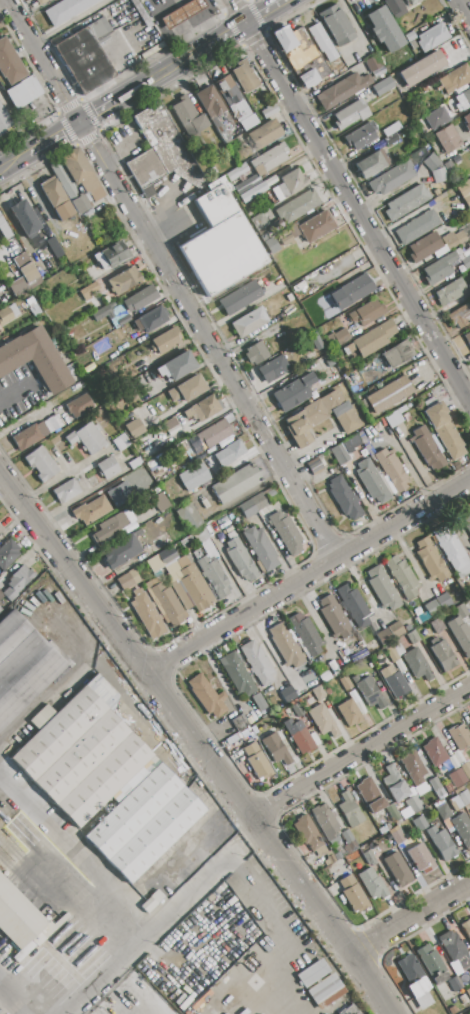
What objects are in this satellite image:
park: (246, 0)
building: (403, 0)
building: (41, 2)
road: (162, 7)
building: (394, 8)
building: (65, 10)
road: (463, 10)
building: (183, 13)
building: (337, 24)
building: (384, 30)
building: (432, 38)
building: (321, 42)
building: (86, 55)
building: (302, 55)
building: (10, 62)
building: (373, 63)
building: (421, 68)
building: (244, 77)
building: (456, 79)
road: (144, 85)
building: (383, 86)
building: (1, 87)
building: (340, 89)
building: (23, 92)
building: (230, 94)
building: (463, 100)
building: (212, 110)
building: (269, 111)
building: (350, 114)
building: (188, 118)
building: (467, 121)
building: (3, 122)
traffic signals: (82, 124)
building: (390, 130)
building: (265, 134)
building: (360, 135)
road: (123, 136)
building: (447, 138)
building: (390, 139)
building: (159, 149)
building: (270, 161)
building: (431, 162)
building: (371, 164)
building: (448, 165)
building: (236, 172)
building: (81, 173)
building: (439, 175)
building: (392, 178)
building: (271, 179)
building: (293, 181)
building: (247, 184)
building: (463, 187)
building: (68, 189)
building: (253, 192)
building: (279, 192)
building: (56, 198)
road: (350, 199)
building: (466, 200)
building: (406, 202)
building: (296, 204)
building: (24, 218)
road: (175, 219)
building: (258, 221)
building: (316, 225)
building: (416, 226)
building: (4, 229)
building: (284, 237)
building: (454, 239)
building: (220, 242)
building: (424, 247)
building: (117, 254)
building: (465, 259)
building: (101, 261)
building: (352, 266)
building: (439, 268)
road: (173, 278)
building: (25, 280)
building: (125, 280)
building: (89, 291)
building: (350, 292)
building: (449, 292)
building: (240, 298)
building: (139, 299)
building: (32, 307)
building: (367, 312)
building: (101, 313)
building: (8, 314)
building: (460, 315)
building: (150, 320)
building: (249, 322)
building: (339, 336)
building: (374, 338)
building: (468, 338)
building: (165, 340)
building: (256, 353)
building: (397, 353)
building: (35, 358)
building: (176, 366)
building: (274, 368)
building: (186, 388)
road: (13, 392)
building: (293, 392)
building: (389, 394)
building: (78, 406)
building: (203, 408)
building: (325, 415)
building: (391, 420)
building: (55, 422)
building: (169, 424)
building: (197, 426)
building: (134, 428)
building: (443, 428)
building: (214, 434)
building: (29, 435)
building: (86, 438)
building: (121, 442)
building: (427, 448)
building: (232, 451)
building: (339, 455)
building: (135, 463)
building: (40, 464)
building: (314, 466)
building: (108, 468)
building: (391, 469)
building: (194, 477)
building: (147, 481)
building: (373, 481)
building: (236, 483)
building: (65, 491)
building: (345, 498)
building: (160, 501)
building: (253, 506)
building: (274, 508)
building: (90, 509)
building: (191, 517)
building: (466, 521)
building: (109, 527)
building: (1, 529)
building: (287, 532)
building: (449, 545)
building: (261, 548)
building: (121, 553)
building: (7, 555)
building: (166, 555)
building: (430, 558)
building: (241, 560)
building: (153, 563)
building: (171, 568)
road: (309, 574)
building: (213, 576)
building: (402, 577)
building: (17, 582)
building: (125, 582)
building: (190, 588)
building: (382, 588)
building: (1, 595)
building: (444, 601)
building: (167, 604)
building: (354, 605)
building: (431, 607)
building: (460, 611)
building: (147, 614)
building: (335, 616)
building: (421, 617)
building: (437, 625)
building: (396, 629)
building: (305, 634)
building: (460, 635)
building: (385, 636)
building: (414, 637)
building: (285, 645)
building: (390, 652)
building: (443, 656)
building: (257, 662)
building: (417, 664)
building: (22, 666)
building: (237, 673)
building: (394, 681)
building: (346, 683)
building: (367, 690)
building: (318, 692)
building: (287, 693)
building: (207, 696)
building: (259, 701)
building: (297, 709)
building: (350, 713)
building: (469, 715)
building: (324, 721)
building: (239, 722)
building: (300, 736)
building: (460, 736)
road: (198, 740)
building: (275, 749)
road: (361, 752)
building: (434, 752)
building: (81, 754)
building: (257, 761)
building: (413, 768)
building: (466, 769)
building: (457, 778)
building: (394, 784)
building: (436, 786)
building: (370, 796)
building: (464, 798)
building: (413, 804)
building: (350, 810)
building: (444, 812)
building: (393, 813)
building: (142, 823)
building: (326, 823)
building: (420, 823)
building: (462, 828)
building: (382, 830)
building: (309, 836)
building: (397, 837)
building: (348, 838)
building: (441, 843)
building: (369, 857)
building: (420, 858)
building: (397, 870)
road: (205, 881)
building: (372, 884)
road: (112, 892)
building: (353, 894)
building: (150, 901)
road: (412, 918)
building: (21, 920)
building: (466, 927)
building: (454, 950)
building: (469, 969)
building: (437, 972)
building: (320, 984)
building: (413, 984)
building: (464, 999)
building: (349, 1010)
road: (1, 1012)
building: (421, 1013)

